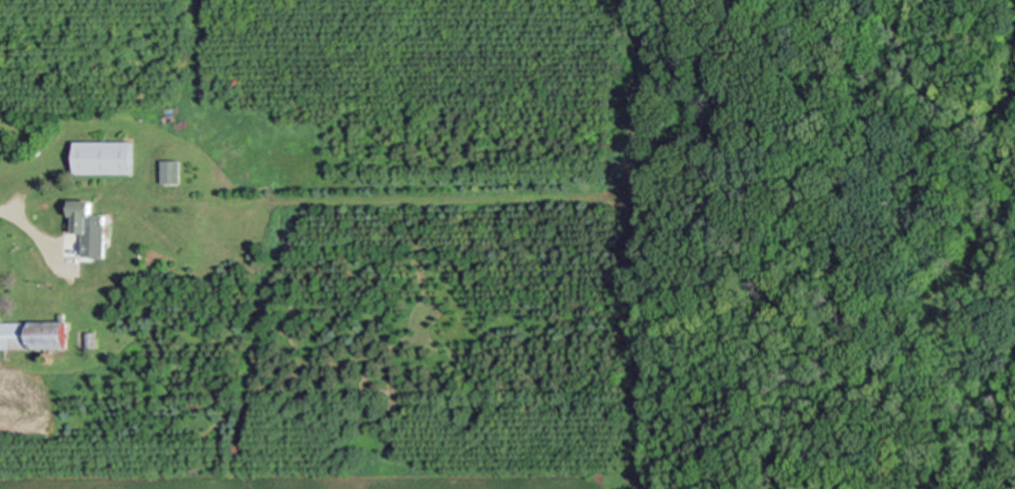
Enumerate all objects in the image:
building: (103, 158)
building: (170, 171)
building: (887, 203)
road: (35, 218)
building: (87, 228)
building: (34, 336)
building: (89, 341)
building: (47, 360)

